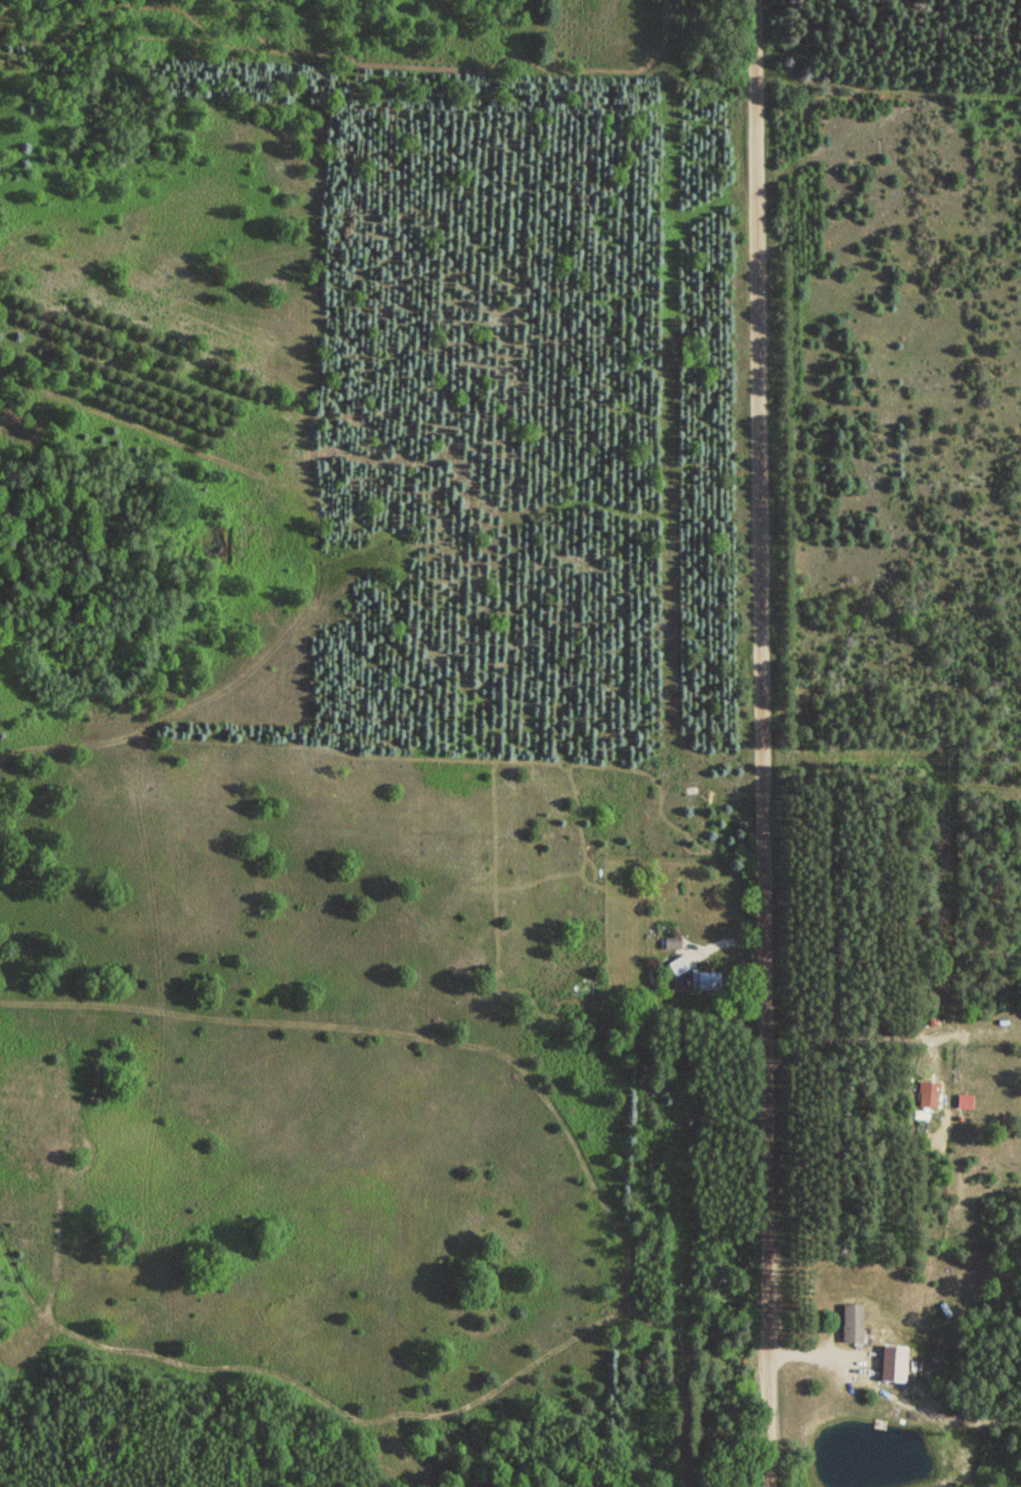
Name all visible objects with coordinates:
road: (764, 743)
building: (669, 943)
building: (676, 965)
building: (926, 1100)
building: (849, 1323)
building: (888, 1363)

